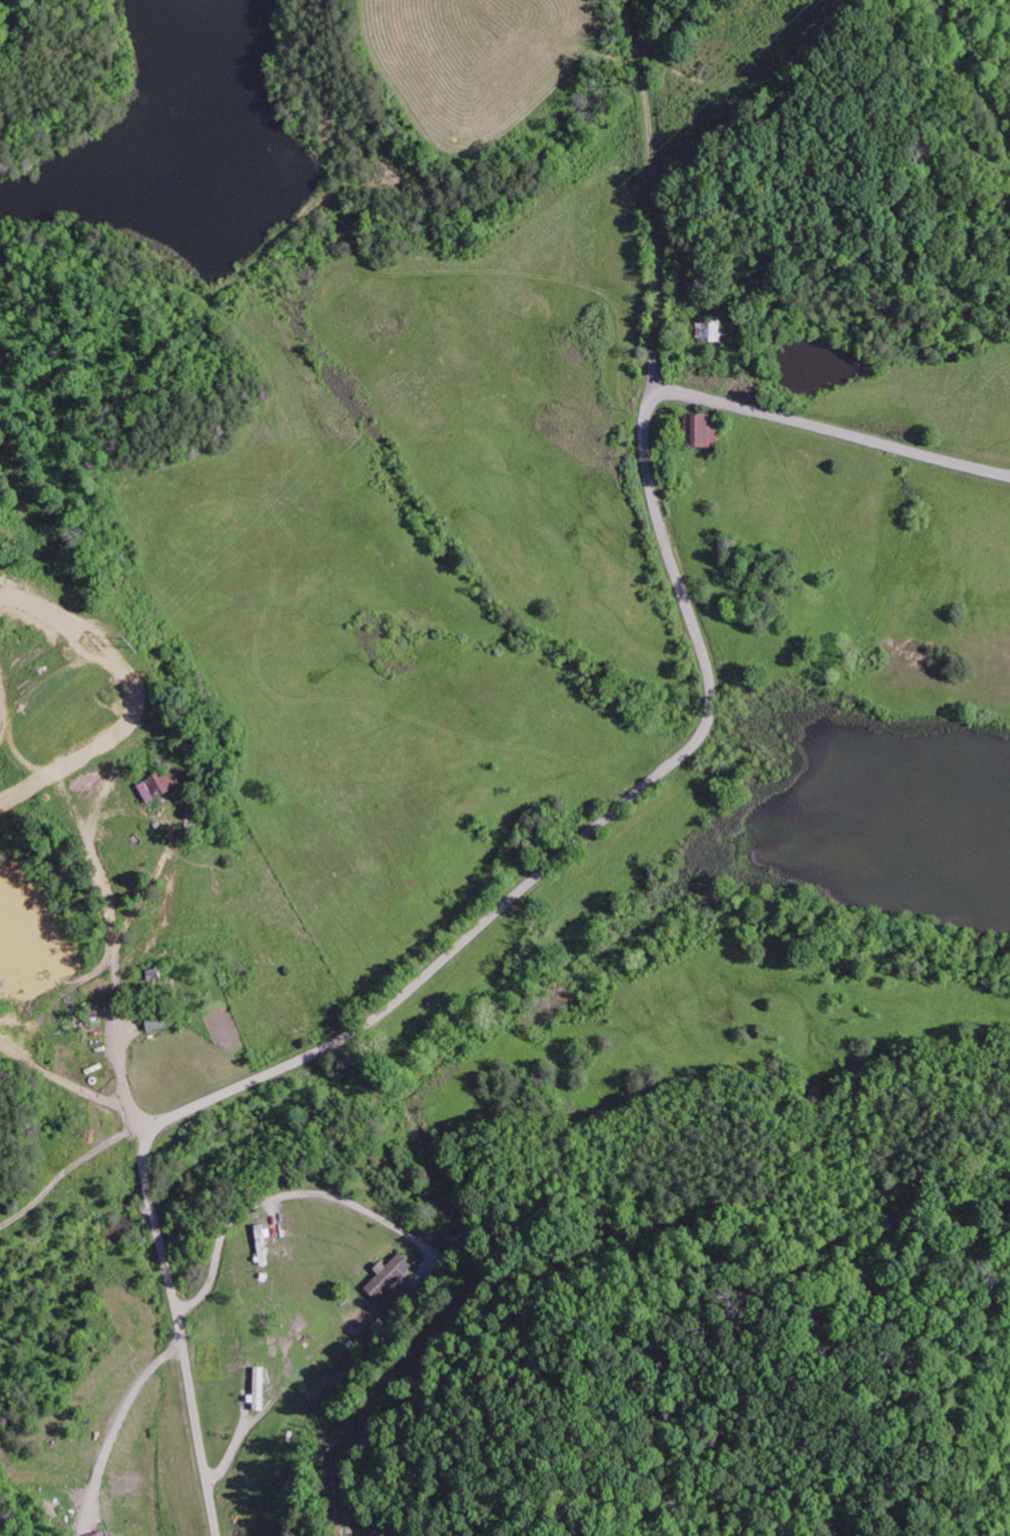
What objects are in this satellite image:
road: (653, 152)
building: (710, 330)
road: (654, 352)
building: (709, 430)
building: (163, 786)
road: (559, 856)
building: (158, 1022)
building: (387, 1276)
building: (259, 1387)
building: (103, 1533)

